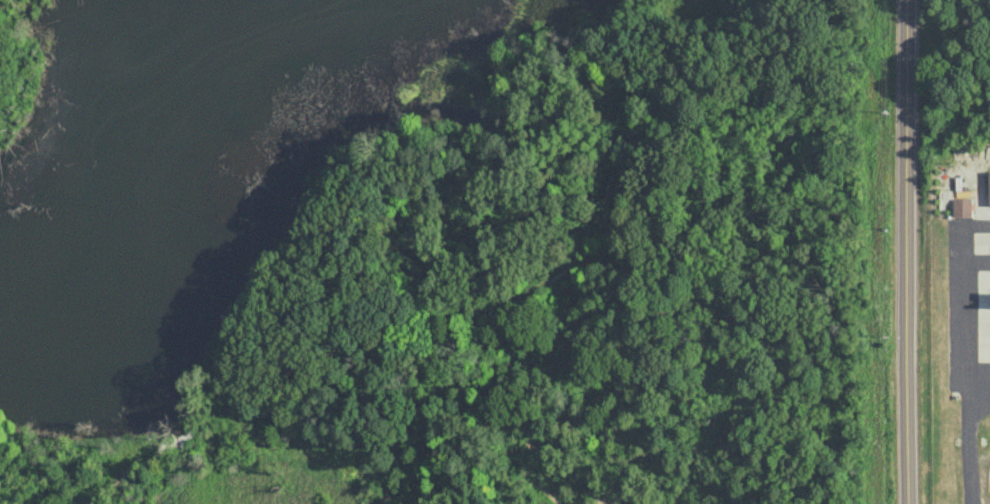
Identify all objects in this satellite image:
building: (989, 200)
building: (963, 206)
road: (906, 252)
road: (960, 292)
road: (979, 387)
road: (229, 395)
road: (333, 434)
road: (969, 446)
building: (407, 498)

